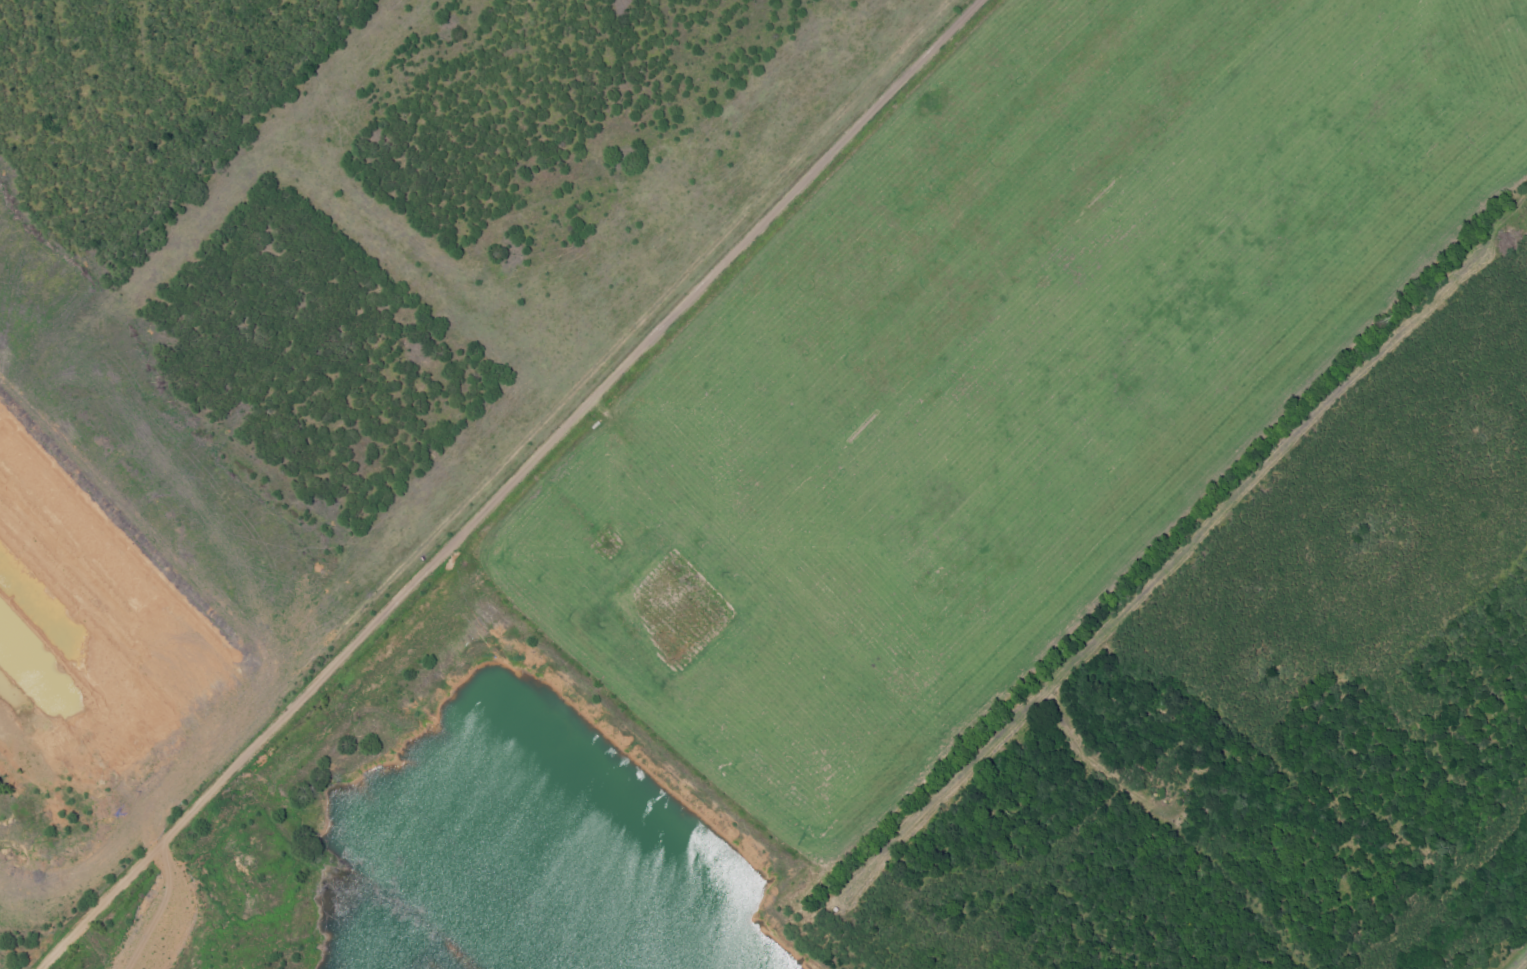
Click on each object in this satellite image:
road: (507, 483)
road: (381, 698)
road: (1506, 947)

